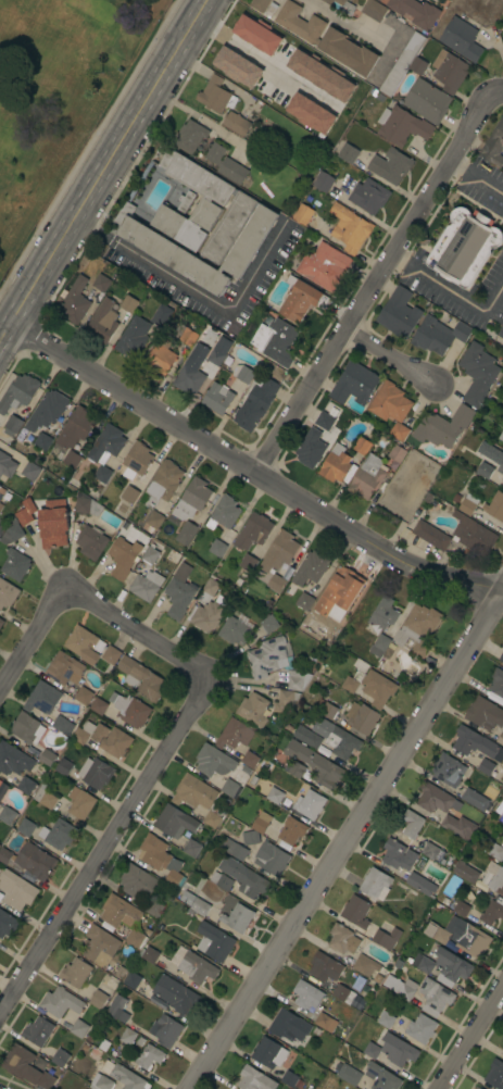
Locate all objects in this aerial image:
building: (378, 0)
building: (259, 4)
building: (342, 5)
building: (374, 10)
building: (416, 12)
road: (339, 18)
building: (249, 37)
building: (326, 38)
building: (461, 39)
building: (279, 43)
road: (248, 49)
building: (313, 53)
building: (227, 63)
building: (404, 63)
building: (295, 64)
building: (450, 72)
building: (263, 85)
road: (495, 93)
park: (60, 95)
building: (215, 95)
building: (427, 100)
building: (310, 113)
road: (202, 121)
building: (236, 123)
building: (401, 125)
building: (189, 136)
building: (494, 145)
building: (214, 153)
building: (348, 153)
building: (390, 165)
road: (457, 165)
road: (103, 170)
building: (231, 171)
road: (485, 180)
building: (323, 181)
building: (368, 196)
building: (185, 200)
building: (303, 213)
building: (201, 226)
building: (350, 228)
building: (465, 247)
road: (397, 259)
building: (324, 266)
building: (101, 283)
road: (373, 284)
road: (196, 291)
road: (456, 295)
building: (74, 301)
building: (302, 301)
building: (128, 303)
building: (399, 313)
building: (161, 315)
building: (102, 322)
building: (501, 333)
building: (438, 335)
building: (133, 337)
building: (188, 337)
building: (276, 341)
building: (218, 351)
road: (391, 356)
building: (159, 359)
building: (191, 370)
building: (502, 370)
building: (242, 373)
building: (477, 373)
building: (354, 384)
building: (268, 387)
building: (18, 392)
building: (217, 398)
building: (389, 402)
building: (47, 410)
building: (249, 414)
building: (324, 420)
building: (13, 423)
building: (443, 426)
building: (75, 428)
building: (399, 431)
building: (501, 436)
building: (42, 441)
building: (362, 446)
building: (311, 449)
building: (105, 450)
building: (491, 452)
building: (397, 453)
building: (72, 459)
building: (137, 460)
building: (336, 464)
building: (7, 465)
building: (501, 467)
road: (252, 468)
building: (485, 470)
building: (30, 471)
building: (367, 477)
building: (502, 479)
building: (164, 480)
building: (1, 492)
building: (129, 495)
building: (456, 498)
building: (191, 499)
building: (87, 504)
building: (468, 504)
building: (494, 505)
building: (1, 506)
building: (224, 513)
building: (26, 515)
building: (154, 520)
building: (1, 528)
building: (253, 531)
building: (53, 533)
building: (186, 533)
building: (12, 534)
building: (431, 535)
building: (473, 535)
building: (91, 541)
building: (217, 547)
building: (122, 552)
building: (150, 554)
building: (278, 558)
building: (248, 562)
building: (15, 564)
building: (311, 567)
building: (146, 585)
building: (211, 586)
building: (178, 592)
building: (7, 593)
building: (339, 593)
building: (304, 601)
road: (52, 606)
building: (382, 614)
building: (208, 616)
building: (1, 622)
building: (268, 623)
building: (236, 628)
building: (417, 629)
building: (84, 644)
building: (381, 647)
building: (110, 654)
building: (267, 656)
building: (501, 658)
building: (64, 668)
building: (354, 675)
building: (141, 678)
building: (298, 679)
building: (496, 683)
building: (377, 688)
building: (84, 696)
building: (42, 698)
building: (285, 699)
building: (98, 705)
building: (253, 709)
building: (129, 710)
building: (328, 710)
building: (485, 714)
building: (362, 717)
building: (62, 725)
building: (26, 728)
building: (234, 734)
building: (307, 737)
building: (103, 738)
building: (336, 738)
building: (500, 738)
building: (476, 743)
building: (47, 756)
building: (249, 759)
building: (213, 761)
building: (315, 764)
building: (16, 765)
building: (63, 766)
building: (486, 766)
building: (294, 768)
building: (448, 769)
building: (96, 773)
building: (2, 788)
building: (229, 788)
building: (193, 792)
building: (275, 796)
building: (45, 797)
building: (433, 798)
building: (474, 799)
building: (310, 804)
building: (79, 805)
road: (126, 812)
building: (8, 815)
building: (213, 816)
building: (175, 822)
building: (411, 824)
building: (458, 826)
building: (26, 827)
building: (255, 828)
building: (291, 830)
building: (58, 834)
road: (345, 840)
building: (192, 848)
building: (234, 849)
building: (493, 850)
building: (432, 852)
building: (398, 854)
building: (160, 858)
building: (271, 859)
building: (29, 860)
building: (466, 873)
building: (244, 877)
building: (495, 878)
building: (219, 879)
building: (138, 881)
building: (376, 884)
building: (420, 884)
building: (16, 889)
building: (187, 898)
building: (200, 906)
building: (154, 907)
building: (461, 909)
building: (118, 911)
building: (491, 913)
building: (354, 914)
building: (238, 917)
building: (7, 924)
building: (441, 935)
building: (135, 938)
building: (386, 938)
building: (470, 938)
building: (342, 939)
building: (214, 942)
building: (99, 946)
building: (150, 954)
building: (177, 954)
building: (423, 963)
building: (365, 965)
building: (197, 967)
building: (325, 967)
building: (451, 967)
building: (75, 972)
building: (131, 979)
building: (401, 987)
building: (343, 993)
building: (175, 994)
building: (306, 994)
building: (432, 997)
building: (98, 999)
building: (60, 1002)
building: (116, 1009)
building: (386, 1019)
building: (326, 1022)
building: (286, 1026)
building: (78, 1028)
building: (420, 1028)
building: (38, 1030)
building: (165, 1030)
road: (469, 1035)
building: (127, 1036)
building: (372, 1050)
building: (397, 1050)
building: (268, 1053)
building: (149, 1056)
building: (60, 1057)
building: (502, 1059)
building: (26, 1066)
building: (349, 1074)
building: (495, 1074)
building: (123, 1075)
building: (382, 1077)
building: (289, 1078)
building: (254, 1079)
building: (101, 1082)
building: (474, 1088)
building: (477, 1088)
building: (502, 1088)

